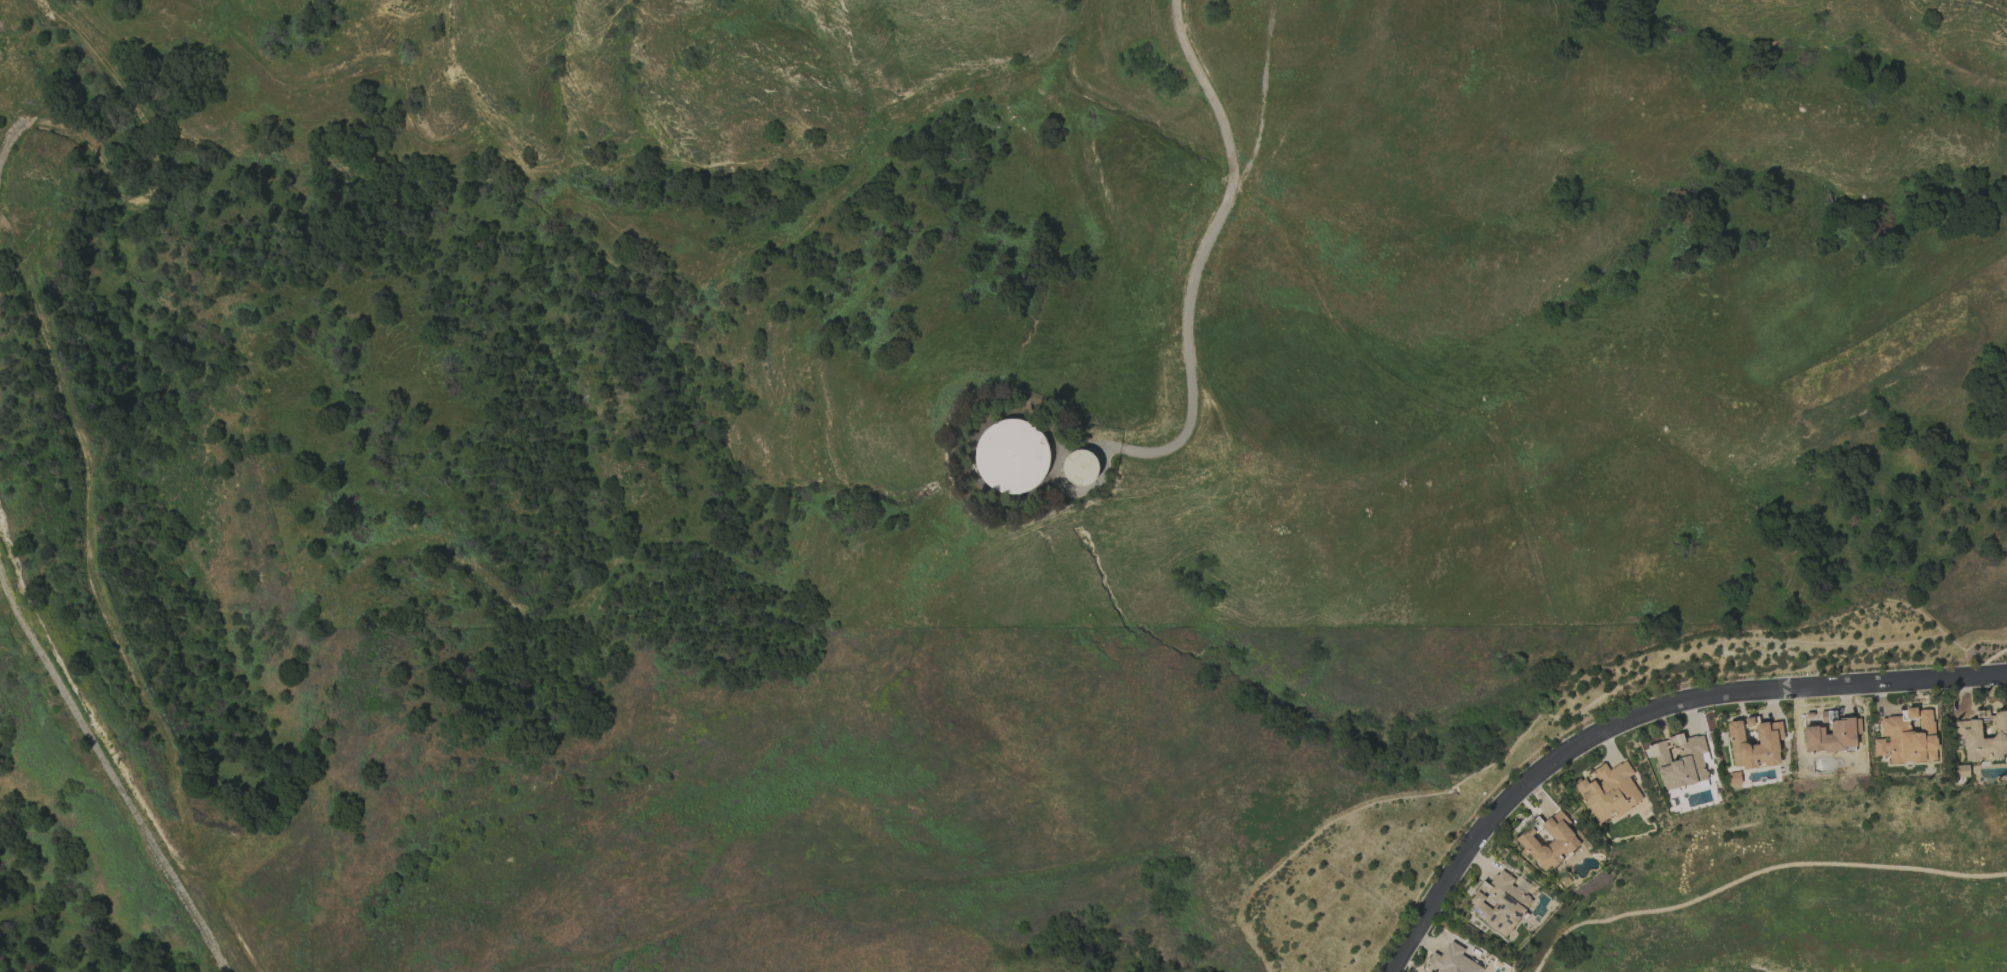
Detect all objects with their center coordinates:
road: (42, 89)
road: (1206, 240)
building: (1011, 456)
building: (1079, 458)
road: (1643, 716)
building: (1967, 729)
building: (1831, 735)
building: (1907, 737)
building: (1767, 742)
building: (1678, 760)
road: (108, 767)
building: (1960, 771)
building: (1608, 791)
building: (1549, 842)
road: (1755, 872)
building: (1498, 903)
park: (1802, 919)
building: (1449, 961)

